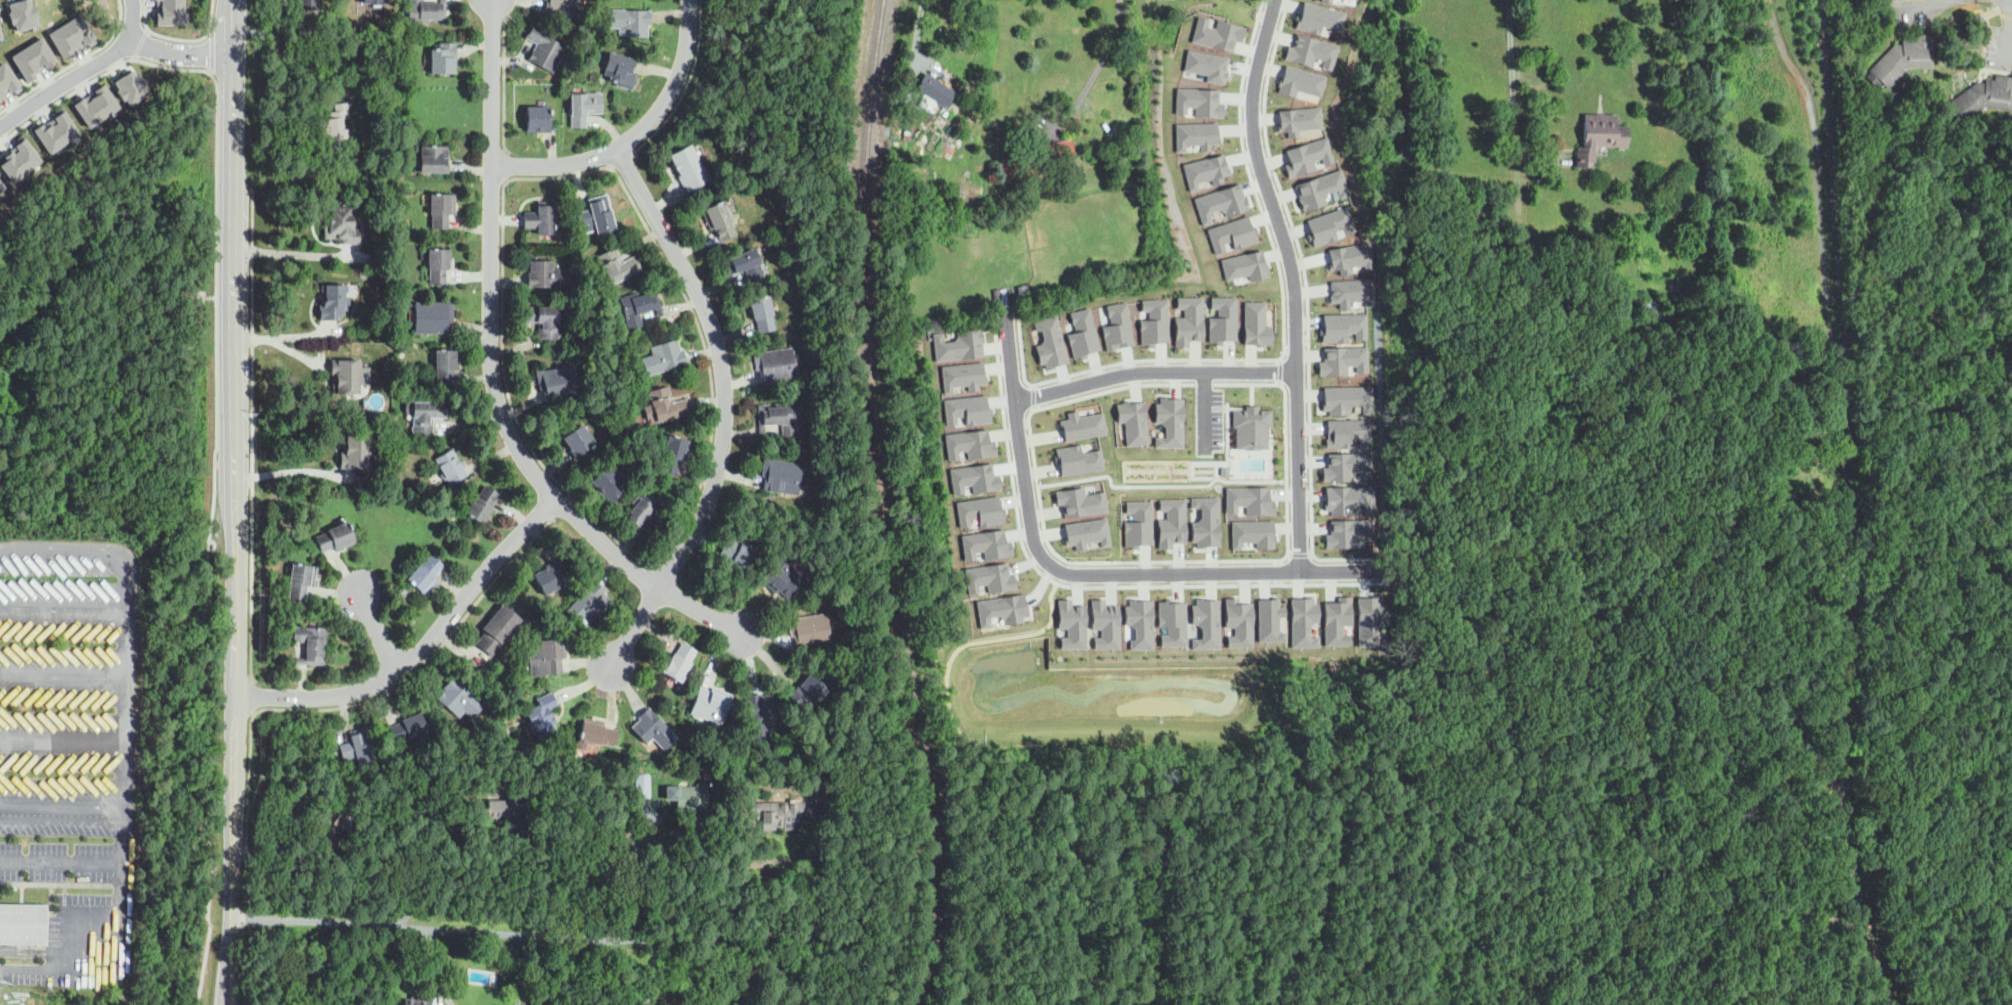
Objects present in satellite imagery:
building: (374, 1)
building: (1346, 1)
street lamp: (1984, 1)
street lamp: (1987, 4)
building: (308, 5)
road: (1916, 5)
building: (563, 8)
road: (1994, 9)
building: (425, 10)
road: (1973, 10)
building: (172, 12)
building: (24, 13)
road: (211, 15)
building: (1315, 15)
building: (629, 22)
road: (234, 27)
street lamp: (1923, 27)
road: (147, 30)
road: (211, 31)
building: (1218, 33)
building: (1, 34)
building: (71, 35)
road: (2007, 35)
road: (165, 36)
road: (140, 43)
building: (378, 43)
building: (544, 48)
building: (1306, 50)
road: (213, 51)
road: (913, 51)
road: (179, 52)
street lamp: (1981, 56)
building: (35, 57)
road: (136, 57)
building: (443, 58)
building: (1903, 60)
road: (72, 63)
building: (1203, 63)
building: (620, 70)
road: (1997, 70)
road: (2002, 70)
road: (212, 71)
road: (81, 73)
road: (104, 73)
road: (1090, 76)
building: (6, 79)
building: (1298, 81)
building: (133, 85)
road: (687, 86)
building: (935, 90)
building: (1194, 99)
building: (1980, 99)
building: (102, 104)
road: (1512, 104)
building: (584, 107)
building: (1639, 110)
building: (1297, 118)
building: (538, 119)
building: (334, 128)
building: (906, 128)
building: (59, 130)
road: (637, 134)
building: (1195, 135)
building: (1600, 137)
building: (906, 146)
building: (1120, 150)
building: (1307, 153)
building: (23, 157)
building: (433, 160)
road: (622, 160)
building: (1036, 161)
building: (256, 162)
building: (1200, 167)
building: (689, 168)
building: (1114, 176)
road: (1819, 181)
building: (3, 188)
building: (1318, 188)
building: (1217, 196)
building: (441, 210)
building: (597, 216)
building: (971, 216)
building: (541, 218)
building: (719, 221)
building: (342, 223)
building: (1331, 223)
building: (1226, 231)
road: (283, 251)
building: (1343, 257)
building: (1596, 258)
building: (1240, 261)
building: (744, 264)
building: (437, 265)
building: (617, 266)
road: (234, 271)
building: (1554, 272)
building: (547, 275)
building: (1599, 276)
road: (1294, 280)
building: (1349, 289)
building: (1001, 296)
building: (332, 301)
building: (639, 307)
road: (1957, 309)
road: (692, 310)
building: (1652, 311)
building: (762, 313)
building: (1185, 315)
building: (1218, 315)
building: (433, 317)
road: (503, 318)
building: (543, 320)
building: (1151, 320)
building: (1252, 321)
building: (1116, 324)
building: (1340, 324)
building: (1081, 335)
building: (958, 341)
building: (1048, 342)
building: (1339, 357)
building: (663, 358)
park: (1765, 360)
building: (775, 365)
building: (445, 366)
road: (1156, 372)
road: (491, 373)
building: (961, 374)
building: (345, 377)
building: (557, 383)
building: (1347, 399)
building: (667, 405)
building: (965, 405)
road: (726, 409)
building: (424, 415)
building: (778, 417)
parking lot: (1209, 417)
road: (252, 423)
building: (1128, 423)
building: (1168, 423)
building: (1082, 425)
building: (1251, 425)
road: (1806, 430)
building: (1347, 432)
building: (578, 441)
building: (969, 441)
building: (356, 452)
building: (674, 453)
building: (1077, 459)
building: (1586, 462)
building: (1347, 466)
building: (451, 467)
road: (288, 471)
building: (781, 476)
building: (975, 477)
building: (608, 483)
building: (1437, 490)
building: (1422, 492)
building: (1076, 499)
building: (1349, 499)
building: (1250, 500)
building: (482, 504)
railway: (876, 505)
road: (1846, 506)
building: (645, 510)
building: (979, 510)
building: (1168, 520)
building: (1203, 520)
building: (1137, 521)
building: (1085, 532)
building: (1348, 532)
building: (1253, 533)
building: (335, 538)
building: (985, 543)
road: (207, 545)
road: (61, 547)
building: (737, 552)
road: (1089, 572)
building: (425, 574)
building: (989, 575)
building: (551, 576)
building: (782, 576)
building: (300, 581)
road: (123, 584)
building: (589, 603)
building: (1004, 606)
building: (1070, 619)
building: (1104, 619)
building: (1271, 619)
building: (1139, 620)
building: (1337, 620)
building: (1369, 620)
building: (1304, 621)
building: (1172, 622)
building: (1202, 622)
building: (1239, 622)
building: (499, 630)
building: (810, 631)
road: (379, 632)
building: (311, 644)
road: (439, 647)
road: (422, 648)
building: (546, 657)
building: (679, 662)
road: (61, 672)
building: (807, 691)
road: (253, 694)
building: (459, 699)
road: (955, 699)
building: (709, 706)
building: (760, 713)
building: (540, 716)
road: (1399, 718)
road: (235, 720)
building: (408, 728)
building: (487, 728)
building: (653, 729)
building: (594, 734)
road: (61, 740)
road: (123, 743)
building: (359, 748)
building: (689, 753)
parking lot: (70, 778)
building: (643, 786)
building: (690, 797)
road: (1836, 799)
building: (507, 804)
road: (62, 806)
building: (779, 813)
building: (333, 822)
road: (1968, 831)
road: (1517, 839)
road: (247, 856)
road: (743, 867)
road: (1031, 868)
road: (635, 870)
road: (810, 872)
road: (466, 887)
road: (1168, 907)
building: (24, 924)
road: (538, 932)
road: (84, 943)
road: (1196, 960)
road: (439, 967)
road: (519, 968)
road: (650, 969)
road: (230, 979)
building: (416, 1000)
building: (537, 1001)

